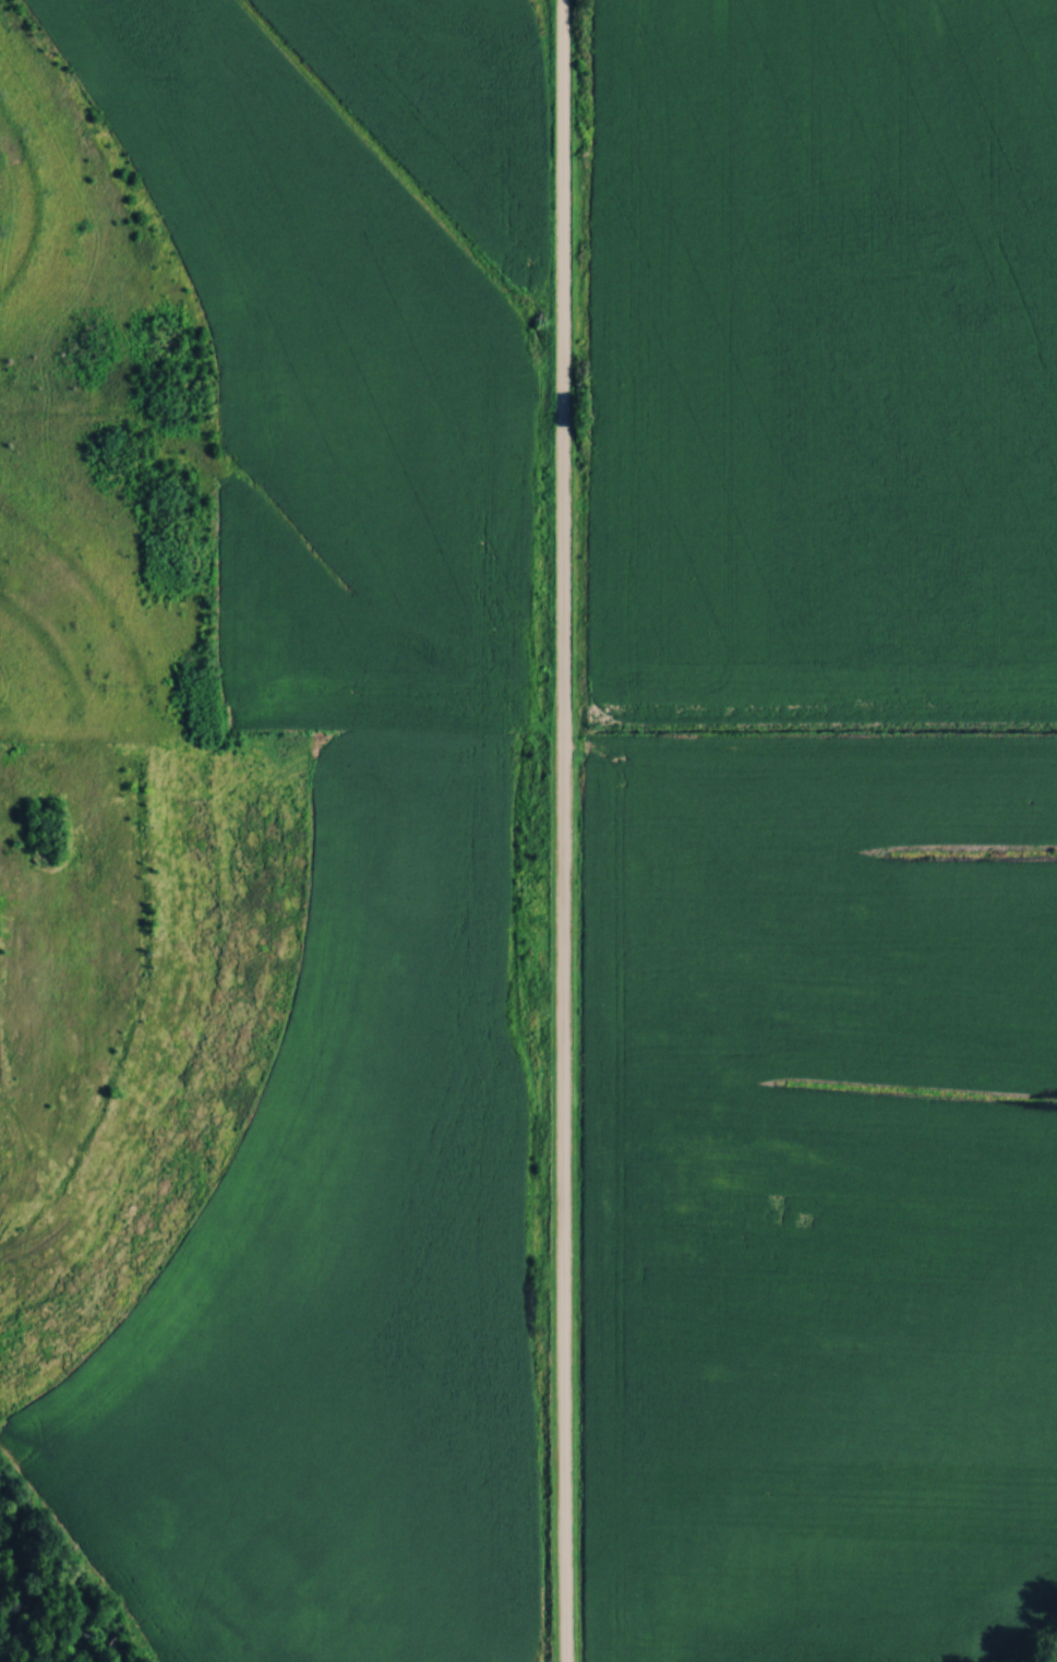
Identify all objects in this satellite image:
road: (567, 830)

